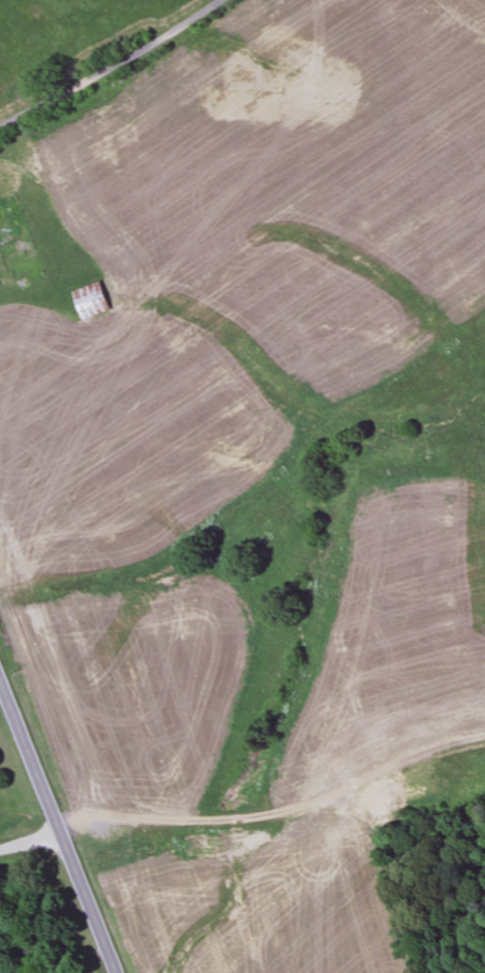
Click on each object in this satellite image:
road: (115, 68)
building: (14, 100)
building: (94, 301)
road: (57, 829)
road: (30, 842)

